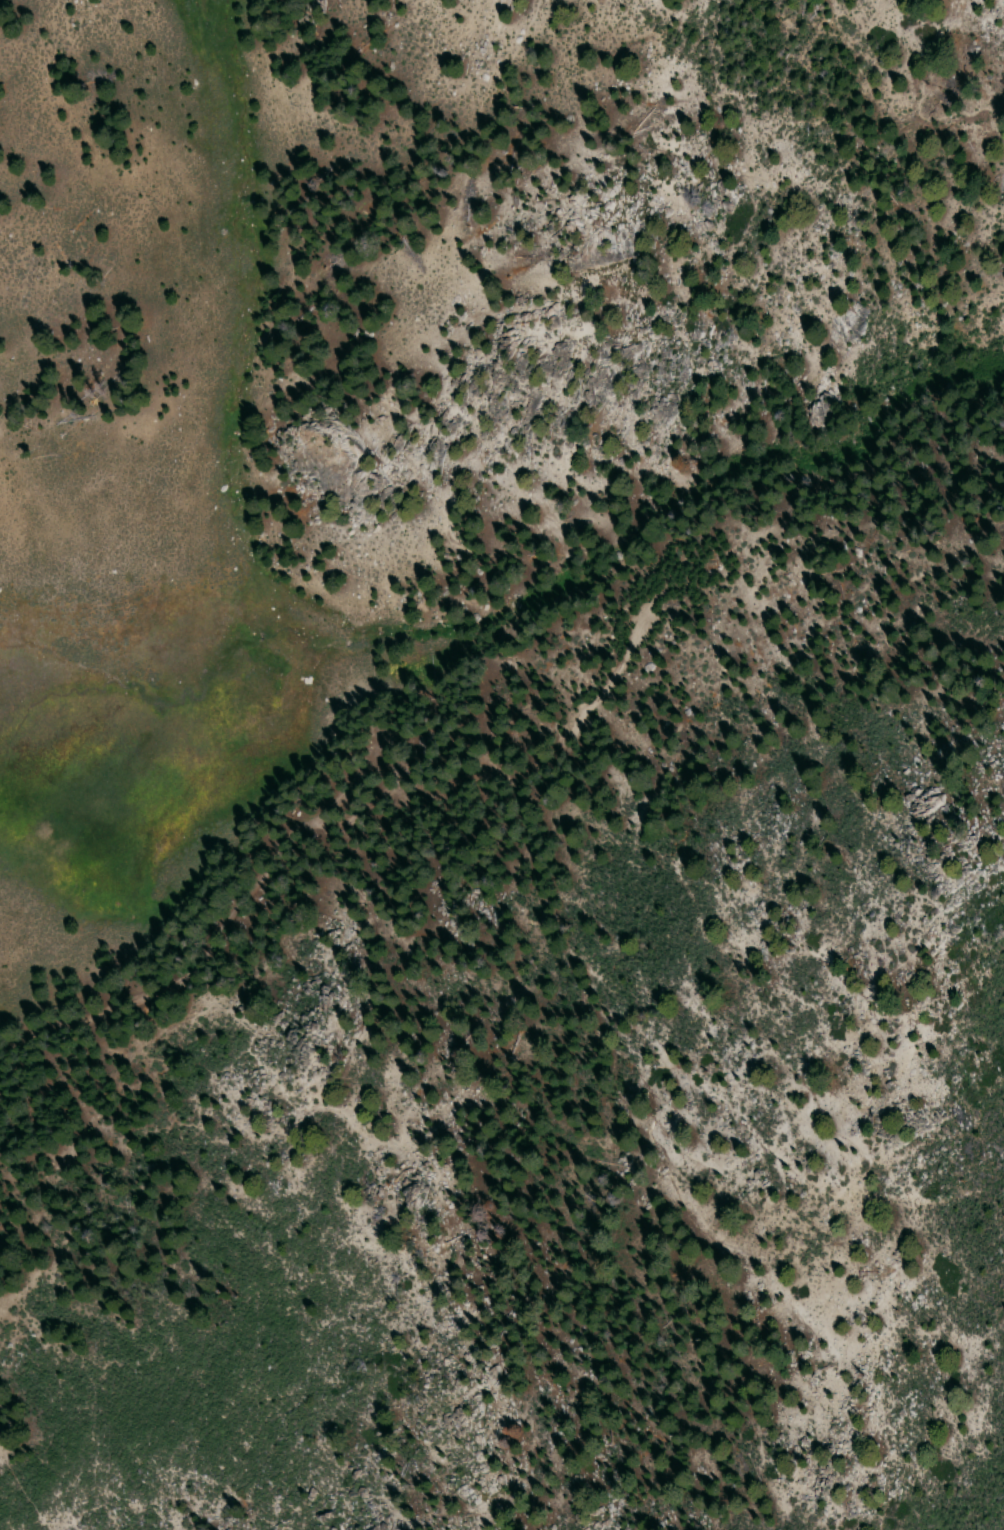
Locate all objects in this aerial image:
road: (6, 1051)

